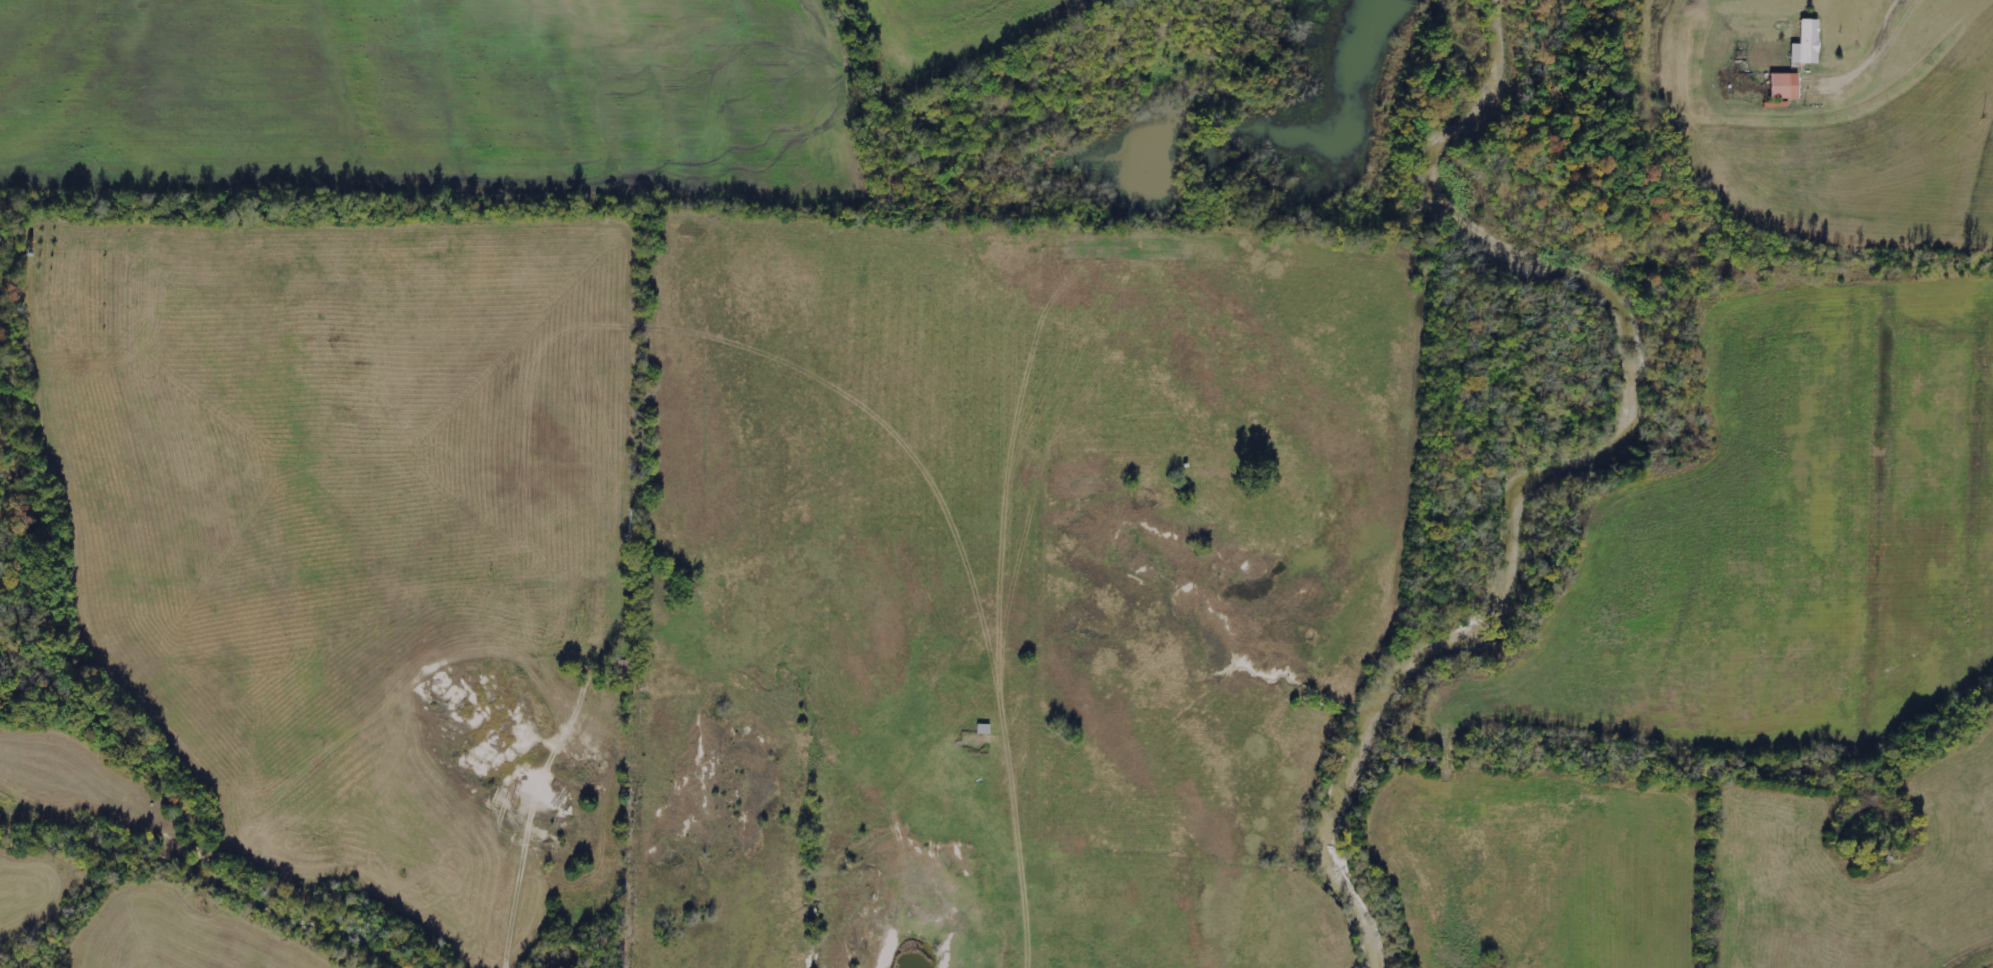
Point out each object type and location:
building: (1804, 45)
building: (1782, 87)

